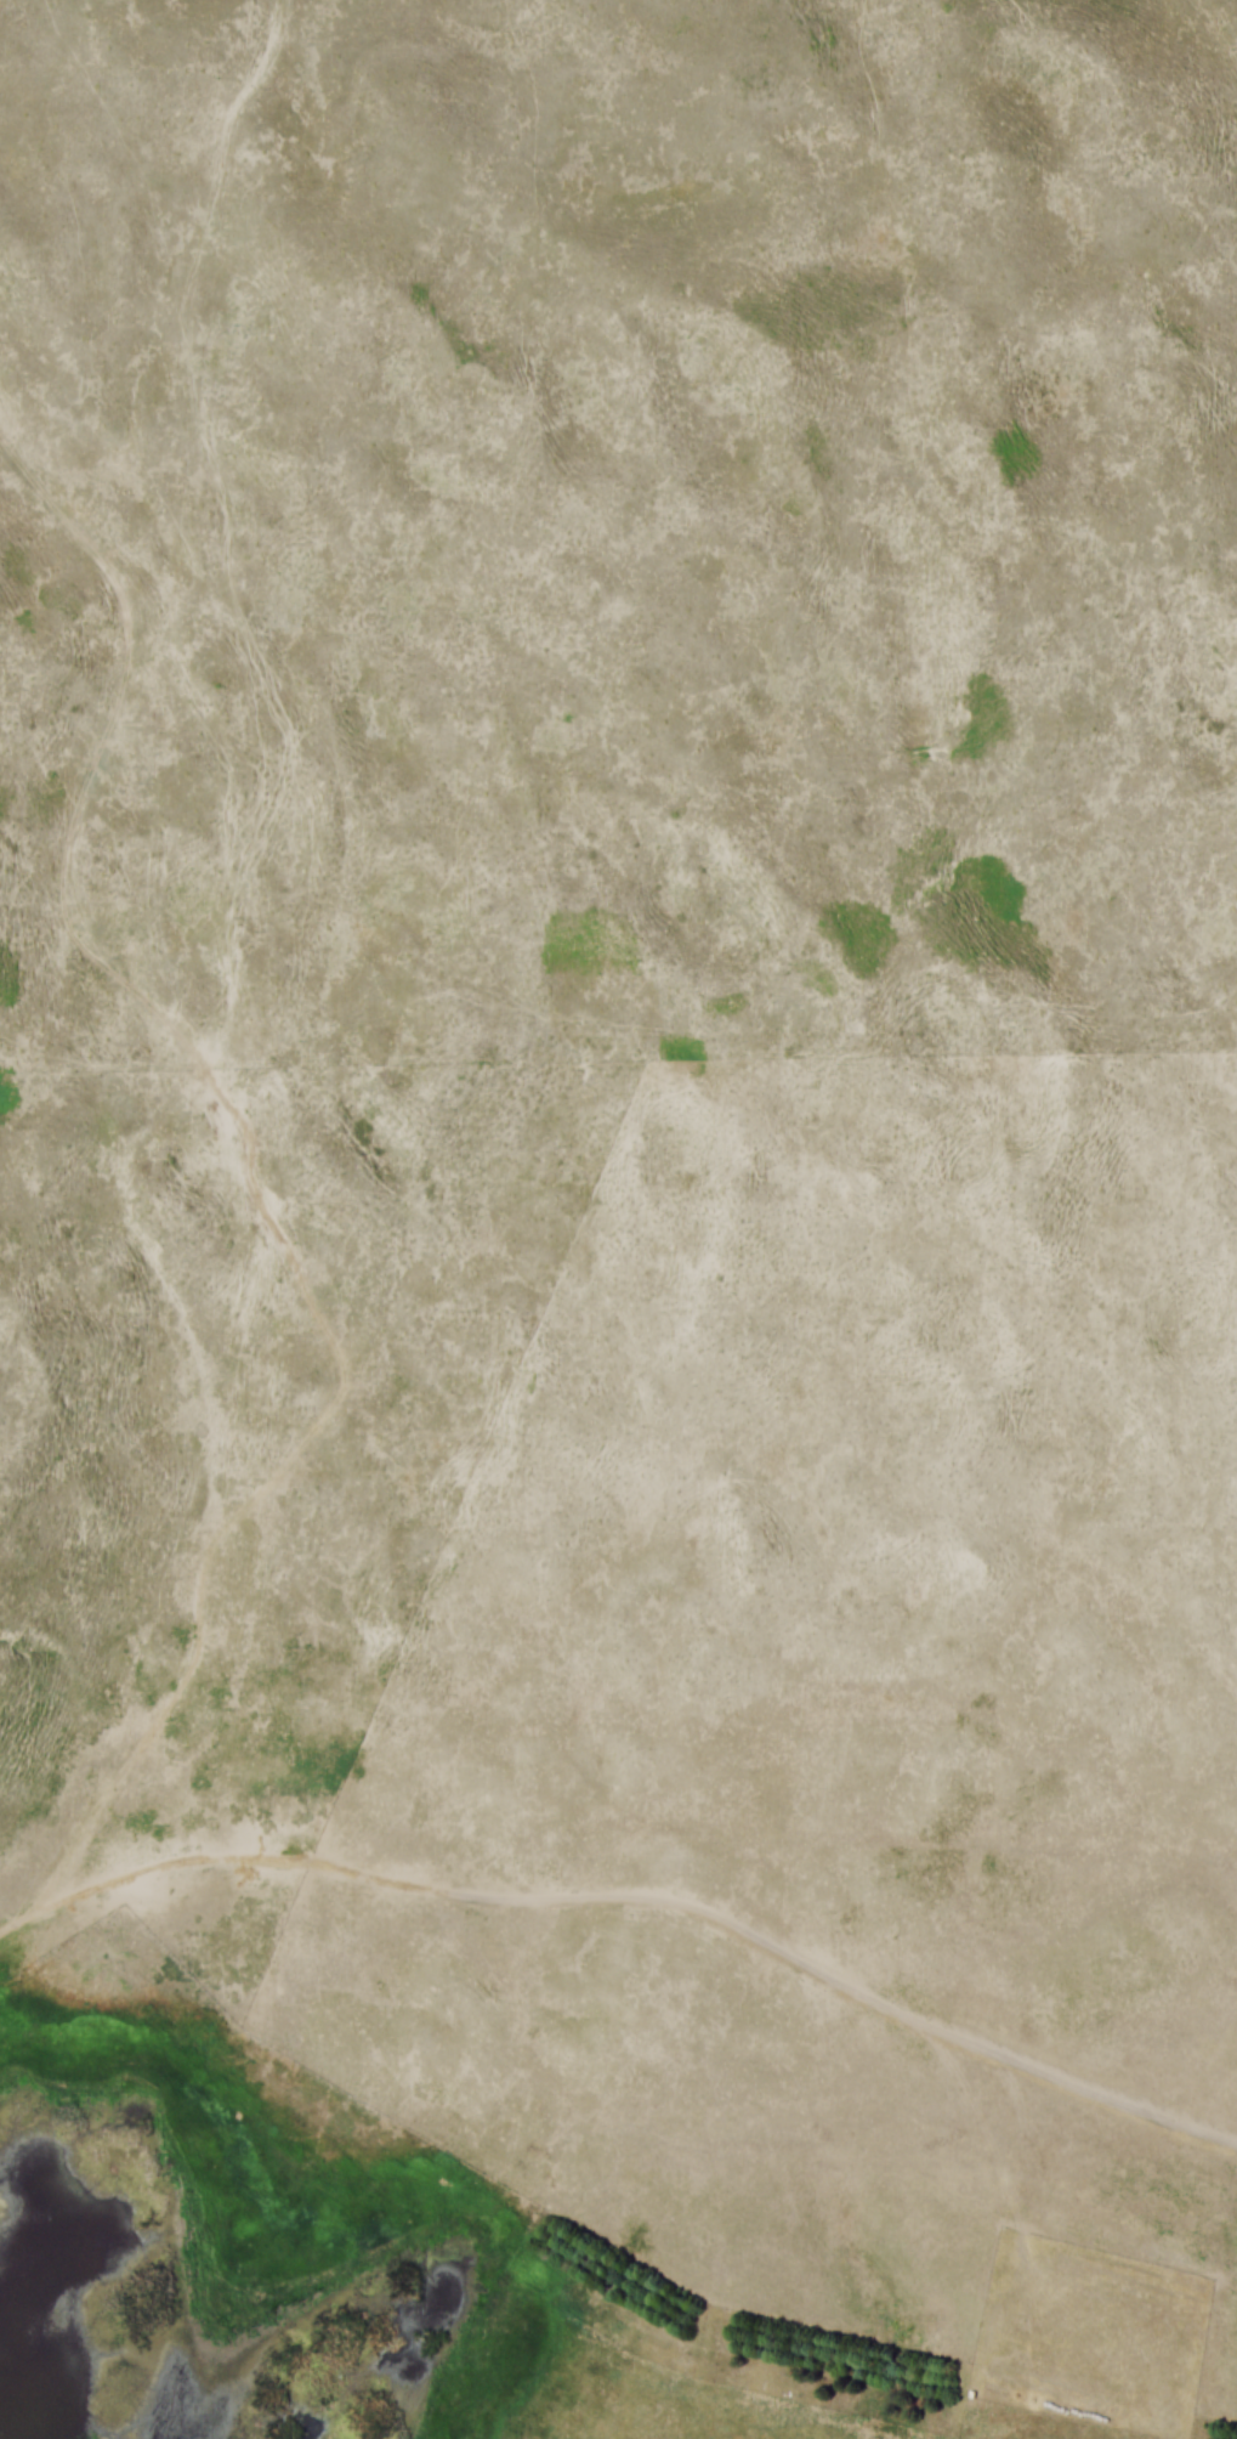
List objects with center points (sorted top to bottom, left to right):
airport runway: (464, 2410)

